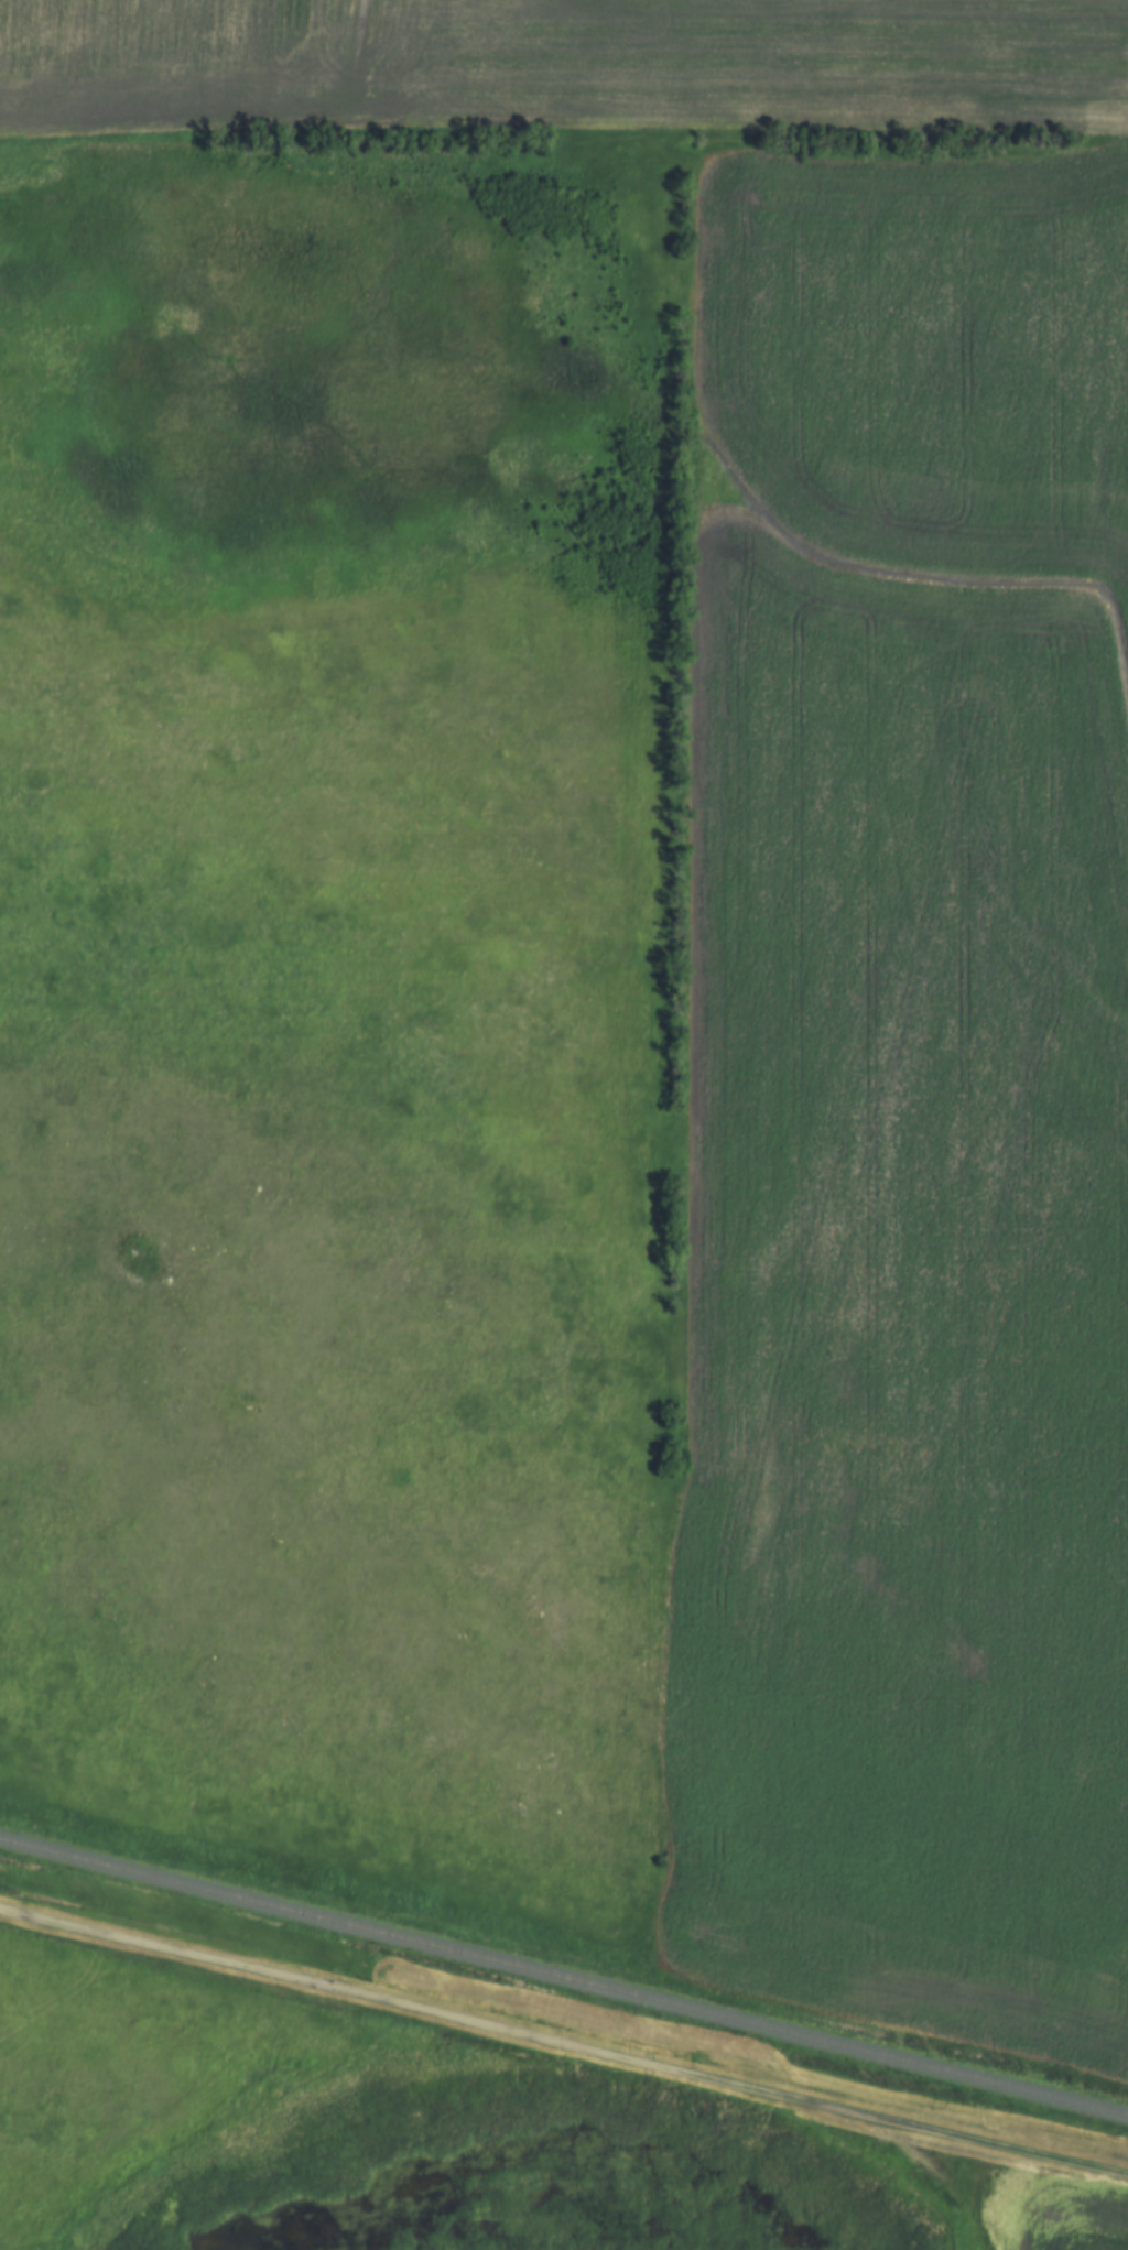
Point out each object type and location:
railway: (564, 1978)
road: (563, 2048)

